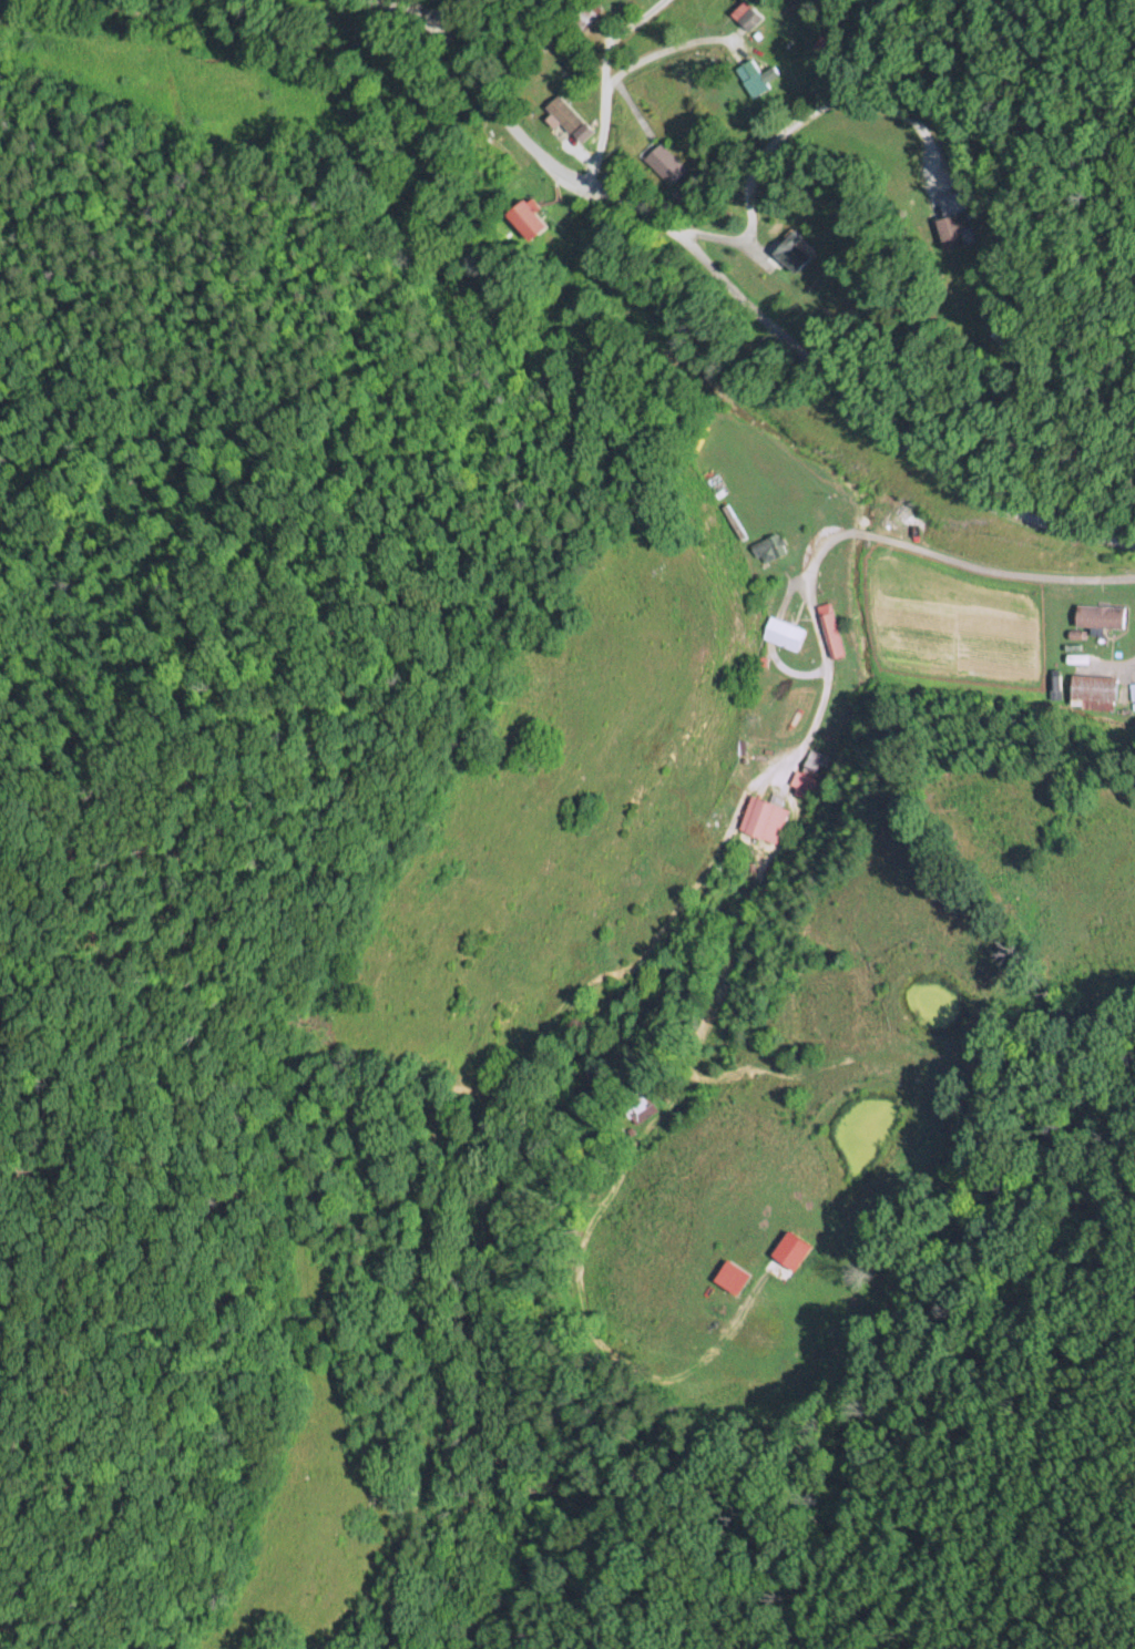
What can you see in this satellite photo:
building: (586, 13)
building: (746, 14)
road: (553, 61)
building: (751, 76)
building: (567, 117)
road: (811, 125)
building: (664, 162)
building: (525, 217)
building: (951, 227)
building: (790, 249)
road: (1060, 256)
road: (712, 265)
road: (1121, 540)
building: (769, 546)
road: (904, 572)
building: (1098, 614)
building: (830, 628)
building: (784, 632)
building: (1133, 688)
building: (1094, 690)
building: (807, 785)
building: (764, 818)
building: (606, 932)
building: (636, 1105)

